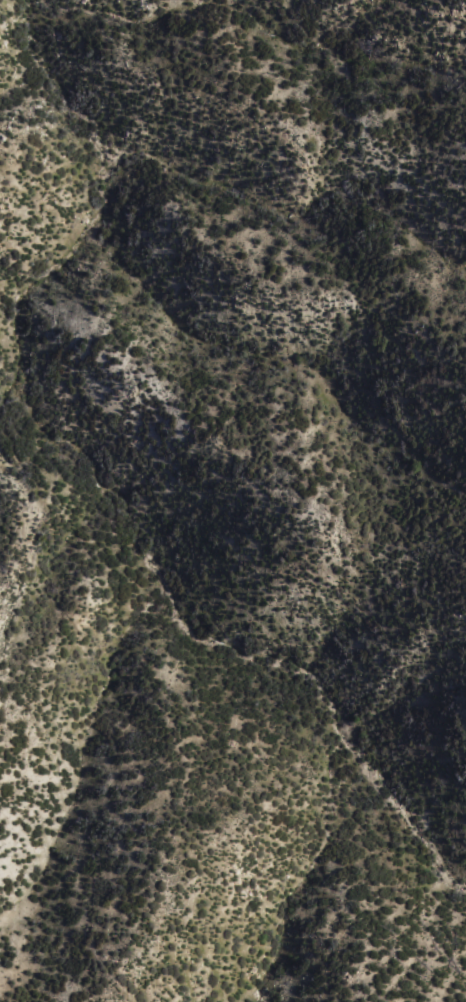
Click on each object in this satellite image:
road: (10, 529)

